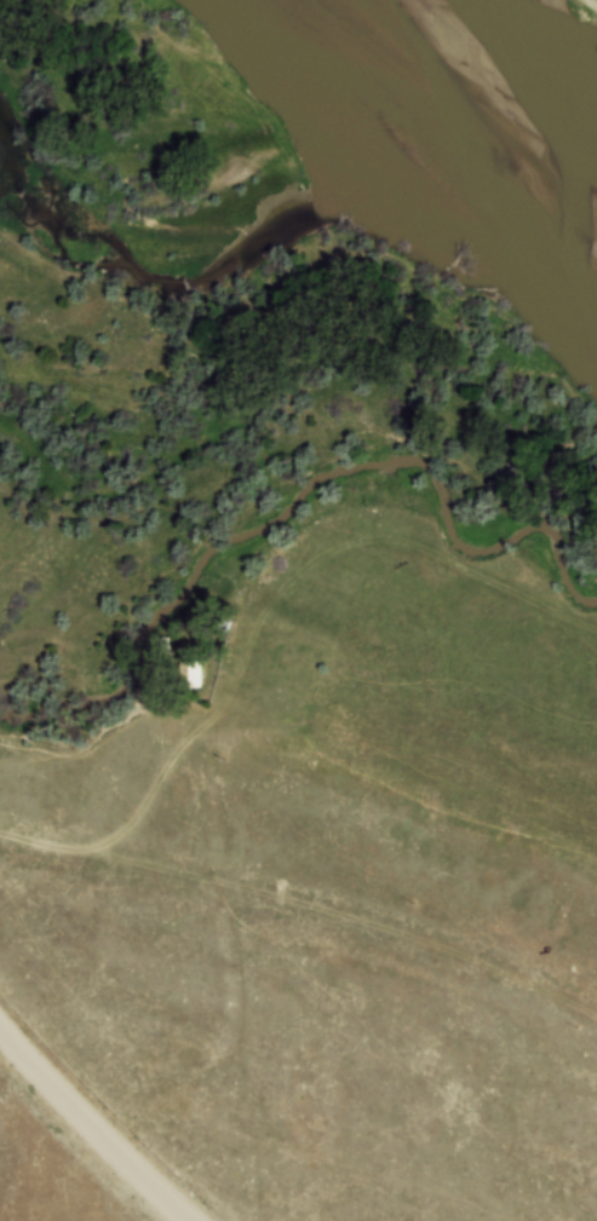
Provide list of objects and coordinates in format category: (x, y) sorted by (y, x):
river: (454, 129)
road: (82, 1136)

